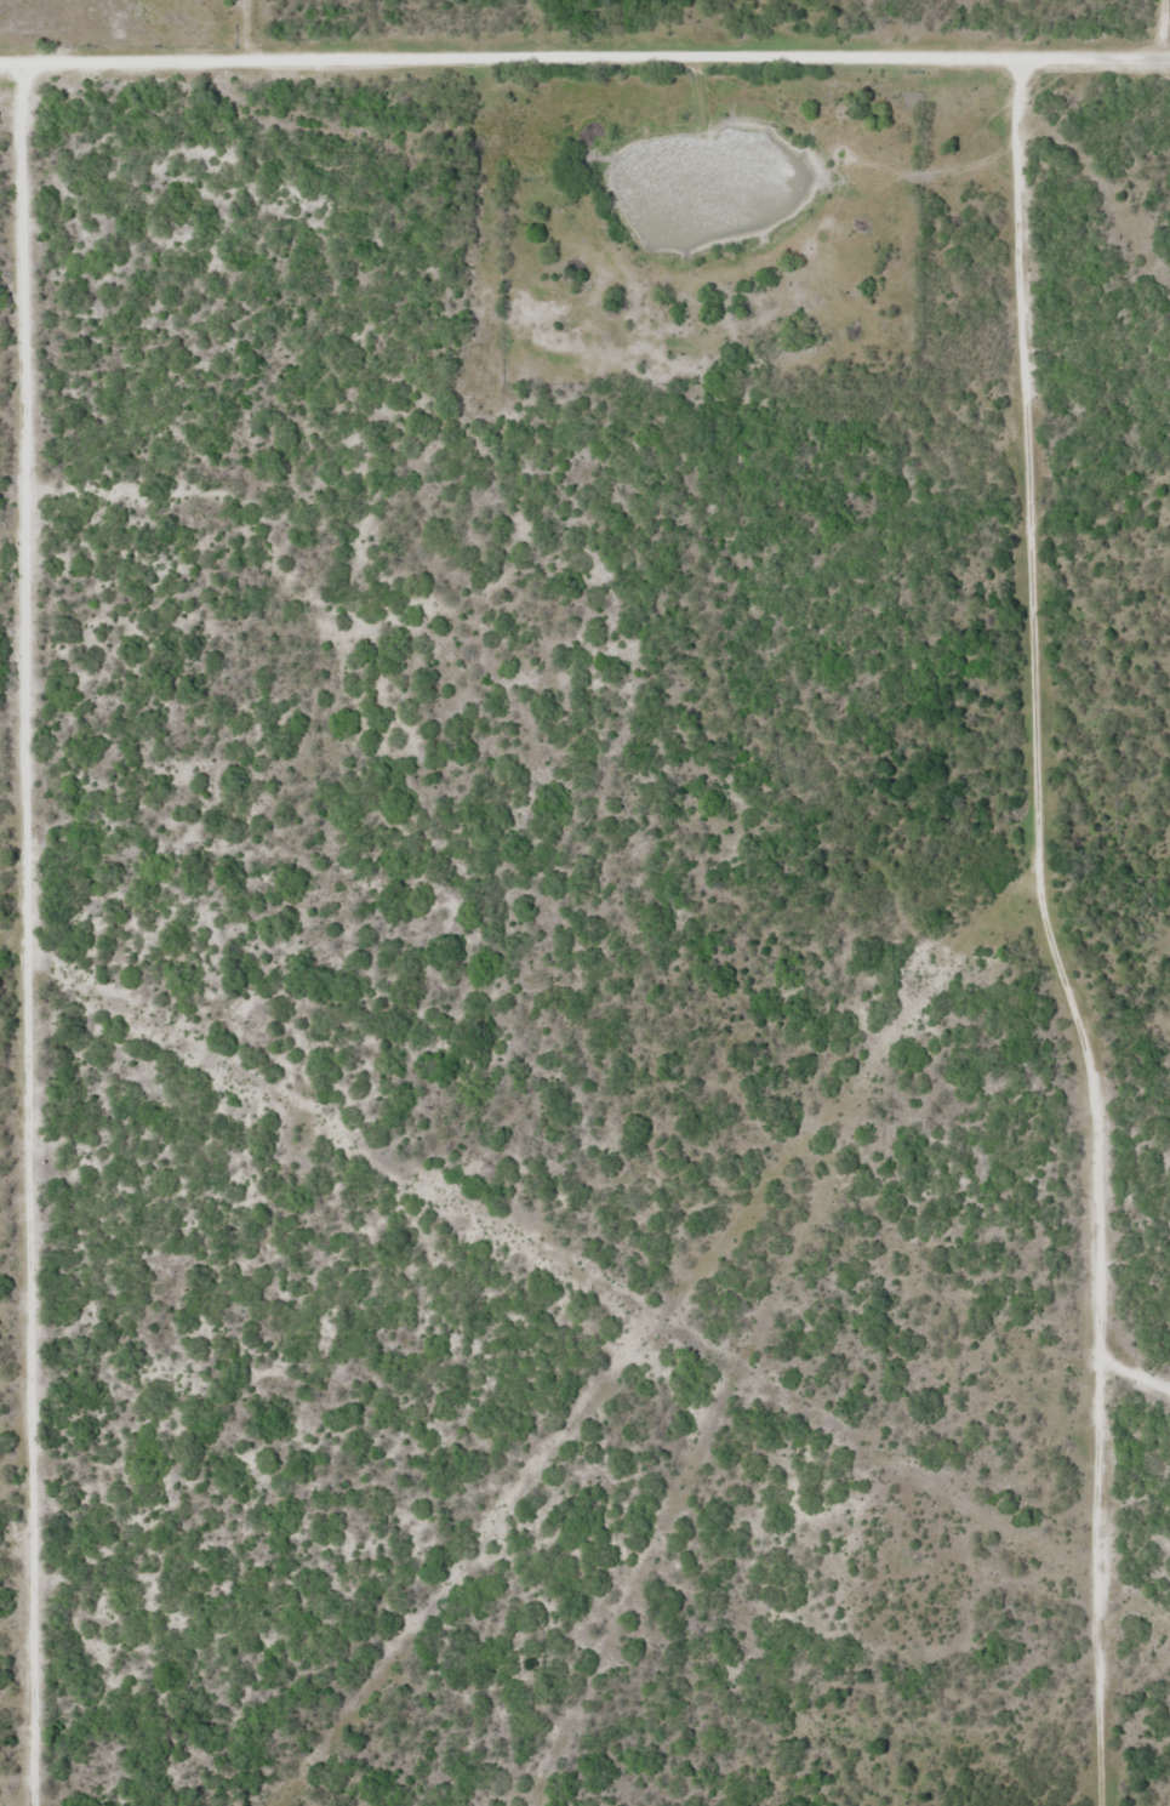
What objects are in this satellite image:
road: (1154, 30)
road: (584, 61)
road: (1044, 934)
road: (25, 939)
road: (1025, 953)

